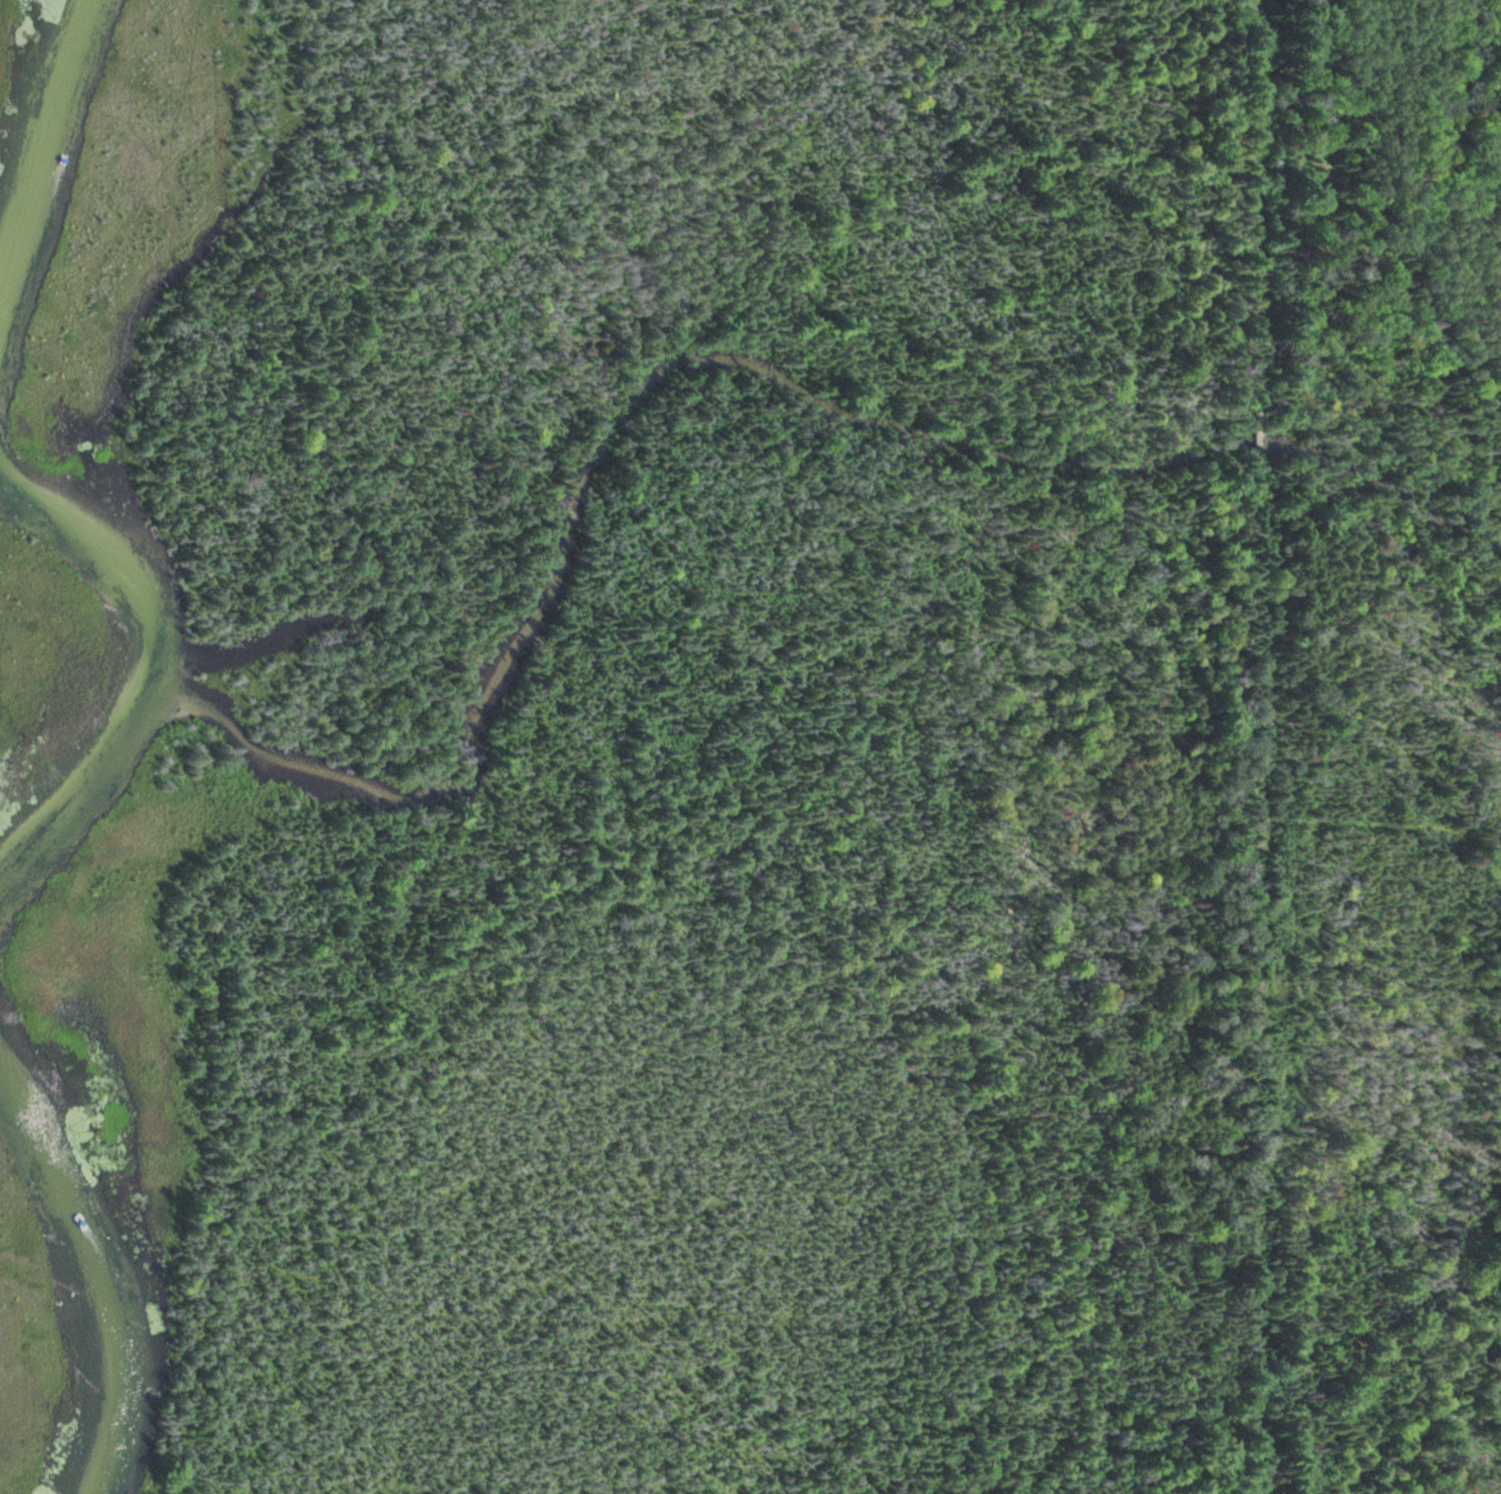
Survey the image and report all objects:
river: (46, 135)
road: (1261, 221)
building: (1262, 441)
road: (1261, 452)
river: (151, 655)
road: (1260, 978)
river: (88, 1262)

